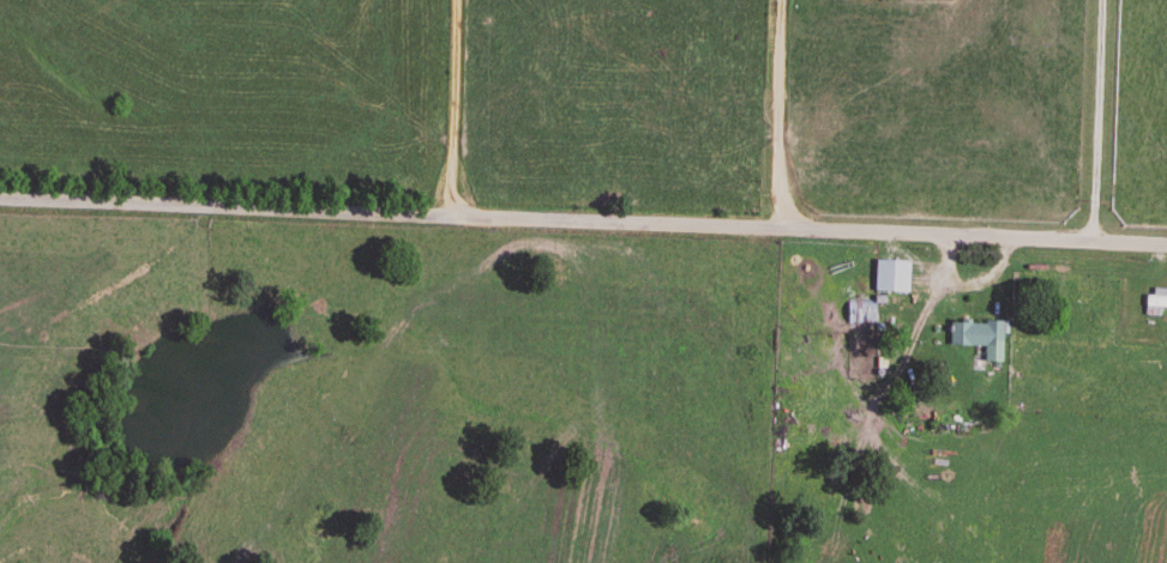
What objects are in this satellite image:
road: (458, 108)
road: (782, 113)
road: (1100, 121)
road: (583, 219)
building: (860, 314)
building: (977, 339)

